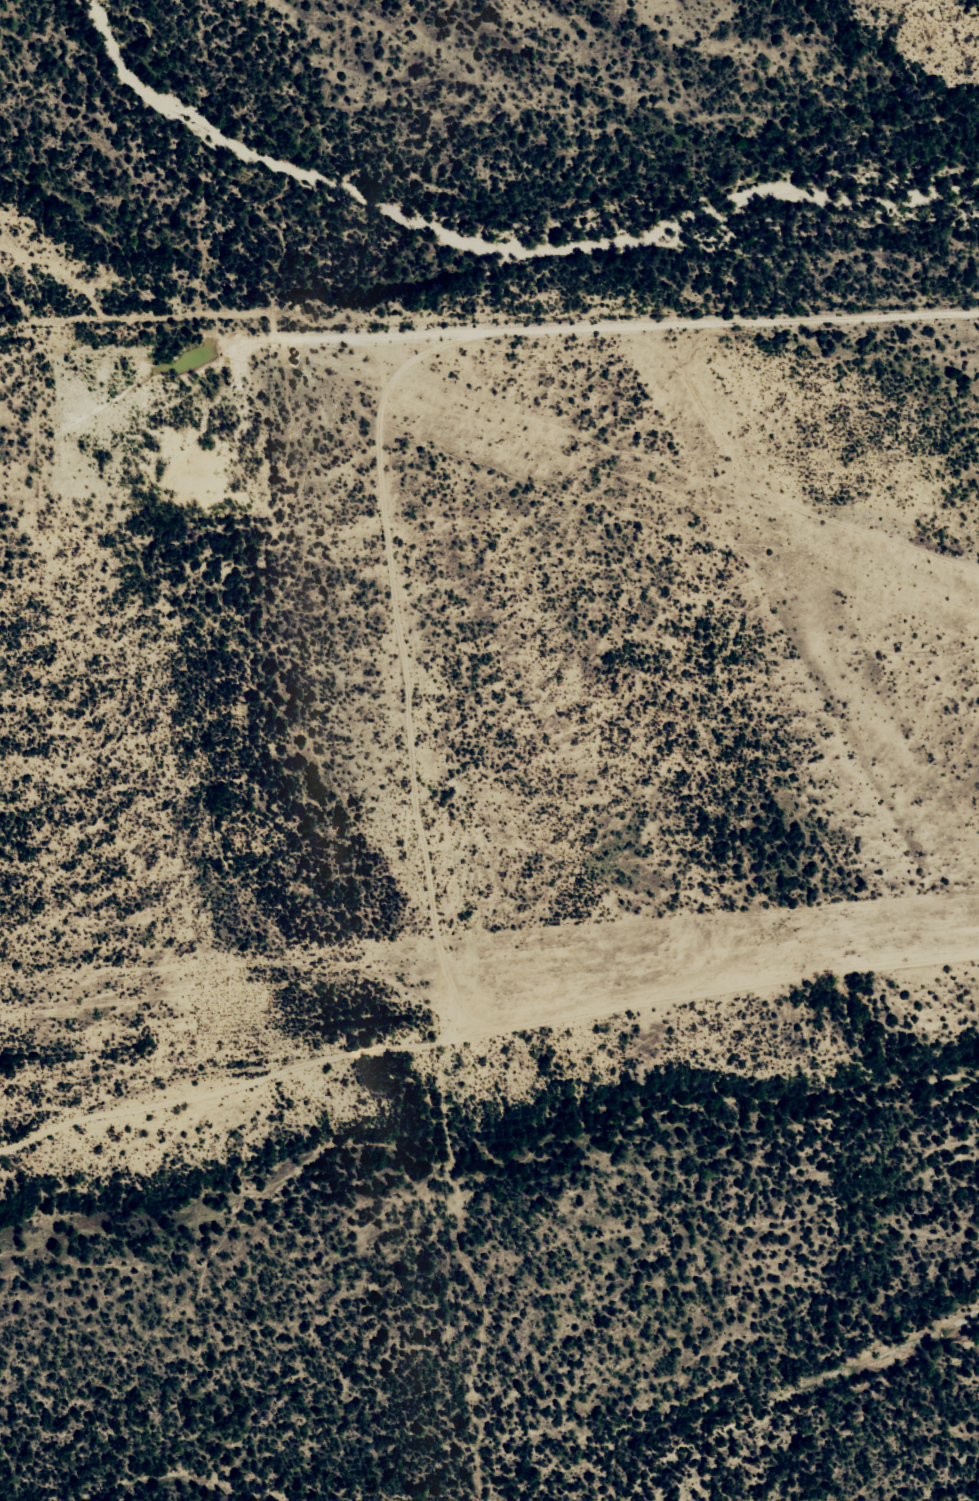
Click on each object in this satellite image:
airport runway: (663, 498)
airport runway: (817, 641)
airport runway: (489, 975)
road: (483, 1055)

